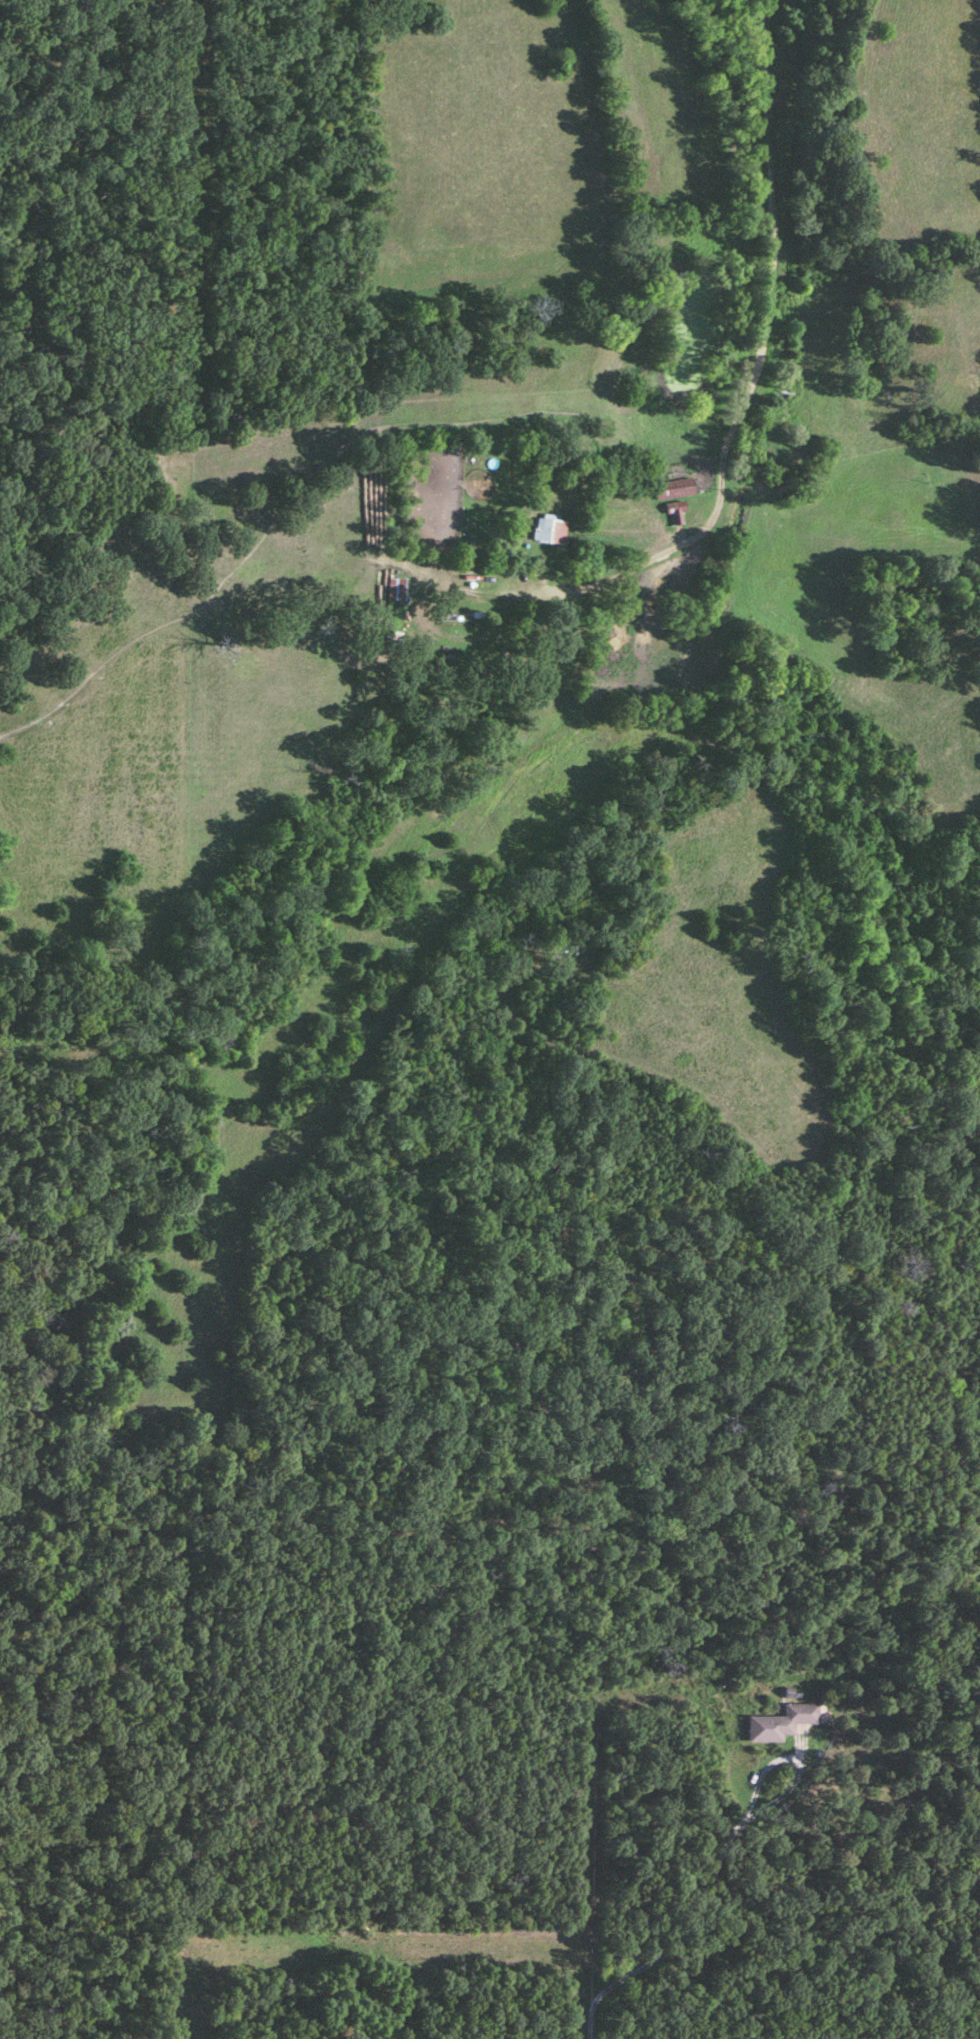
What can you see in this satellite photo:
road: (764, 307)
building: (674, 490)
building: (676, 515)
building: (549, 532)
building: (781, 1724)

